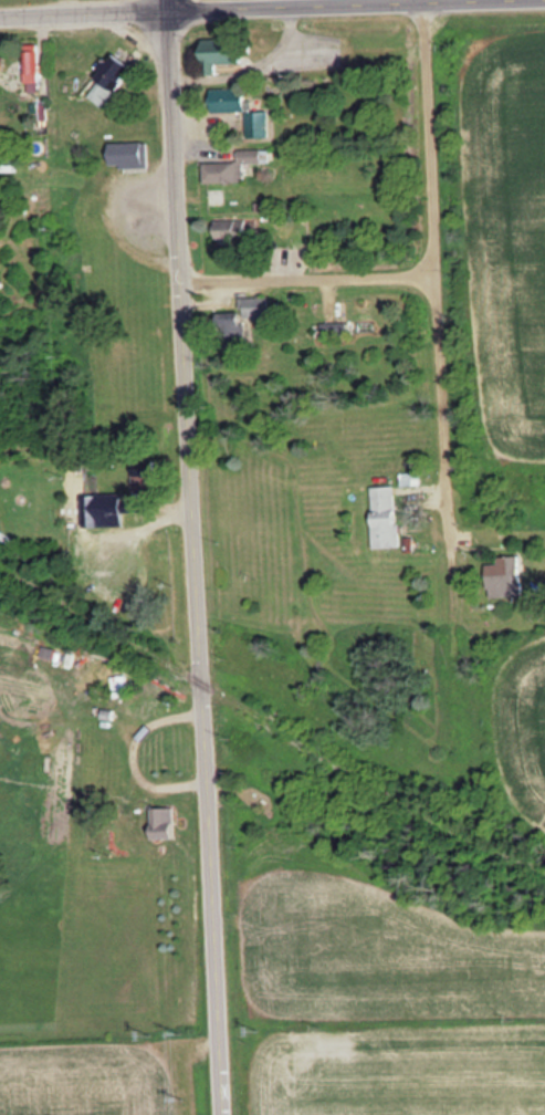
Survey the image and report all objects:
road: (297, 4)
road: (83, 12)
building: (221, 54)
building: (32, 66)
building: (109, 79)
building: (229, 100)
building: (258, 124)
building: (129, 154)
building: (232, 168)
building: (235, 230)
road: (429, 267)
road: (305, 272)
building: (240, 321)
building: (331, 330)
building: (144, 476)
building: (118, 507)
building: (385, 517)
road: (193, 557)
building: (504, 577)
building: (49, 653)
building: (146, 702)
railway: (270, 722)
building: (163, 822)

